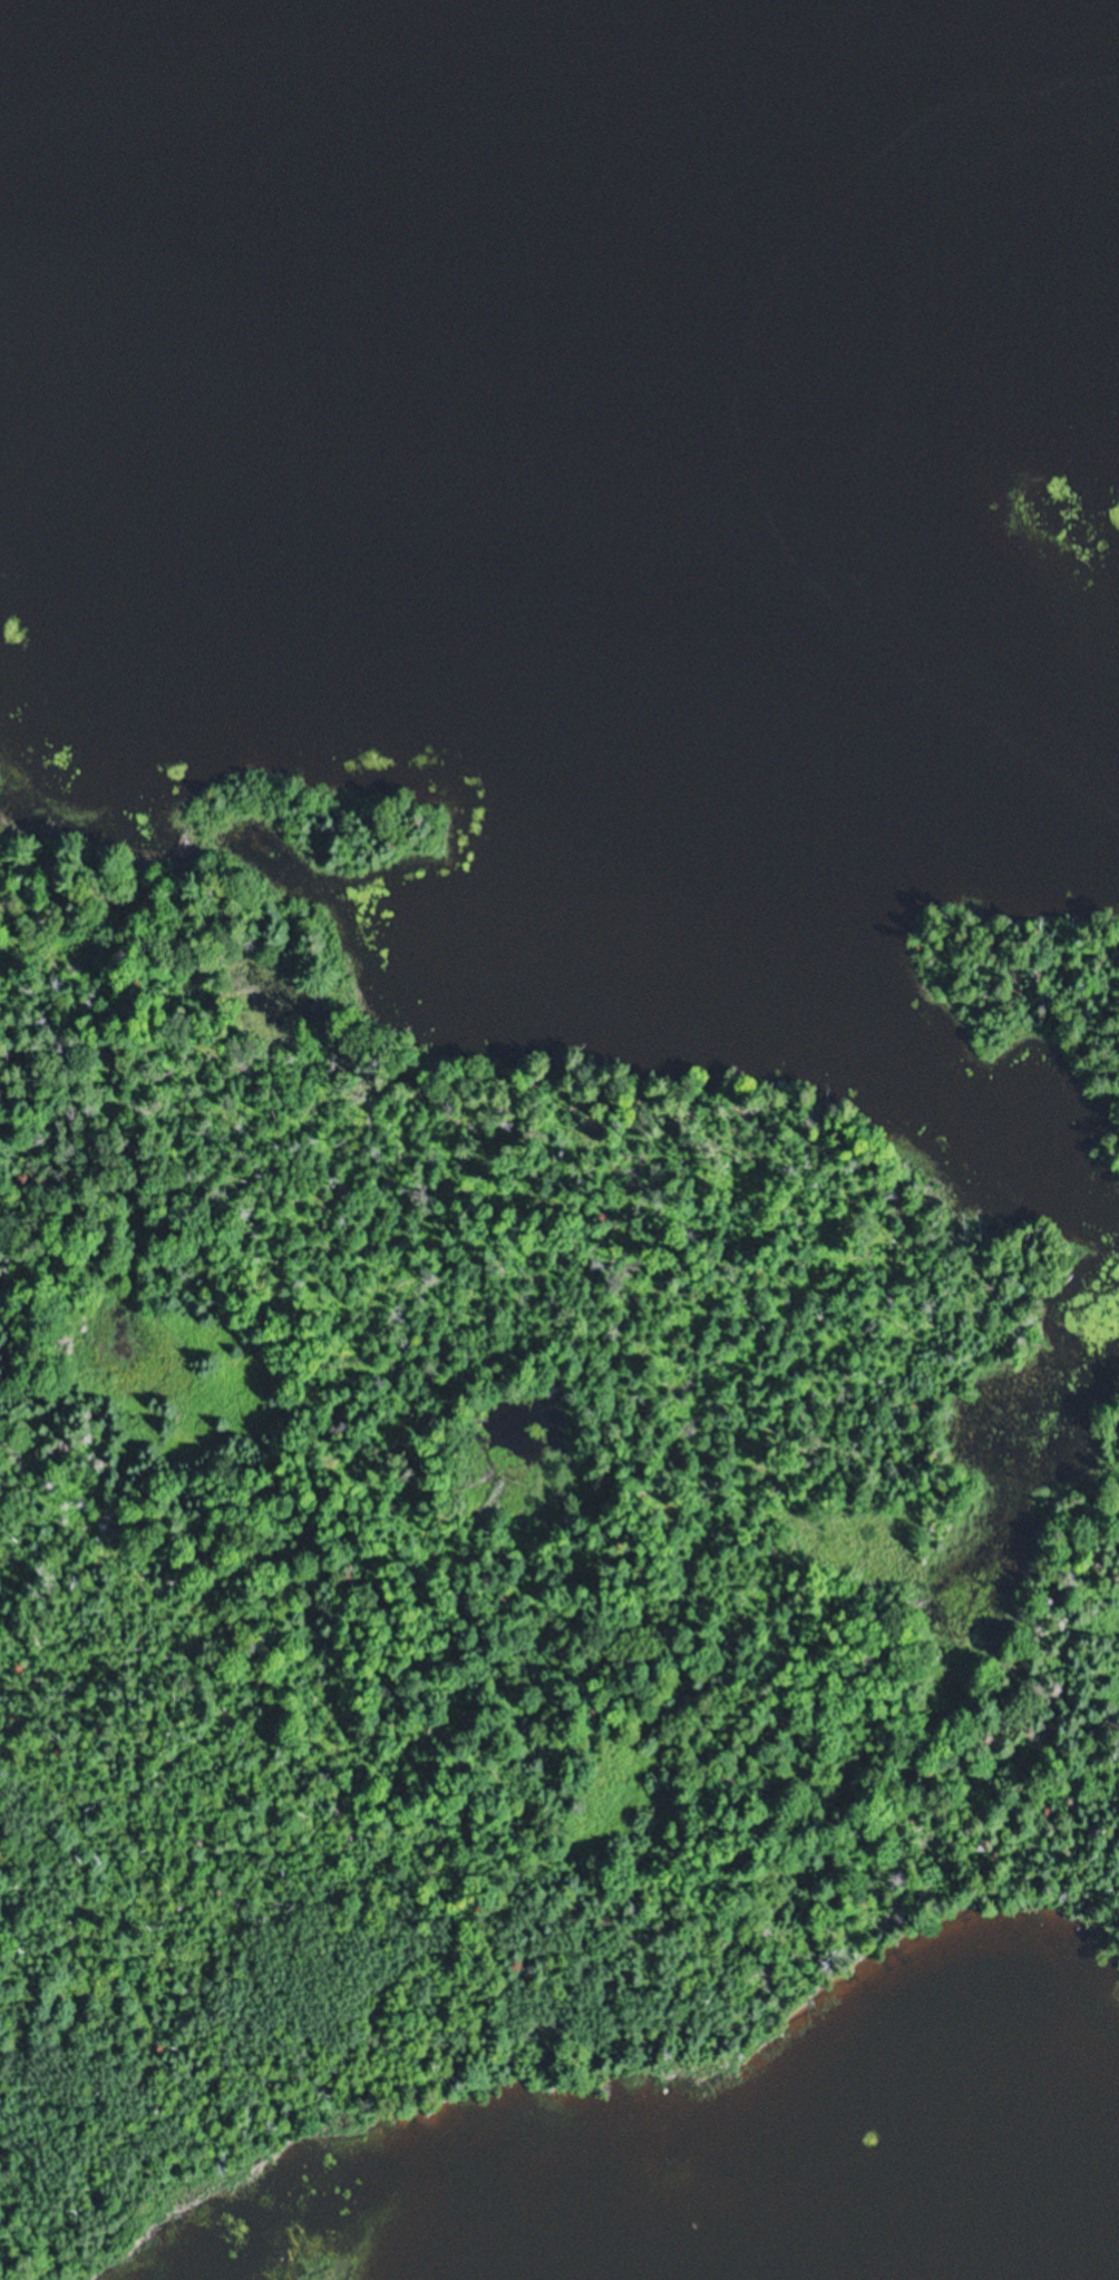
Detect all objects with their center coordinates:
river: (570, 337)

